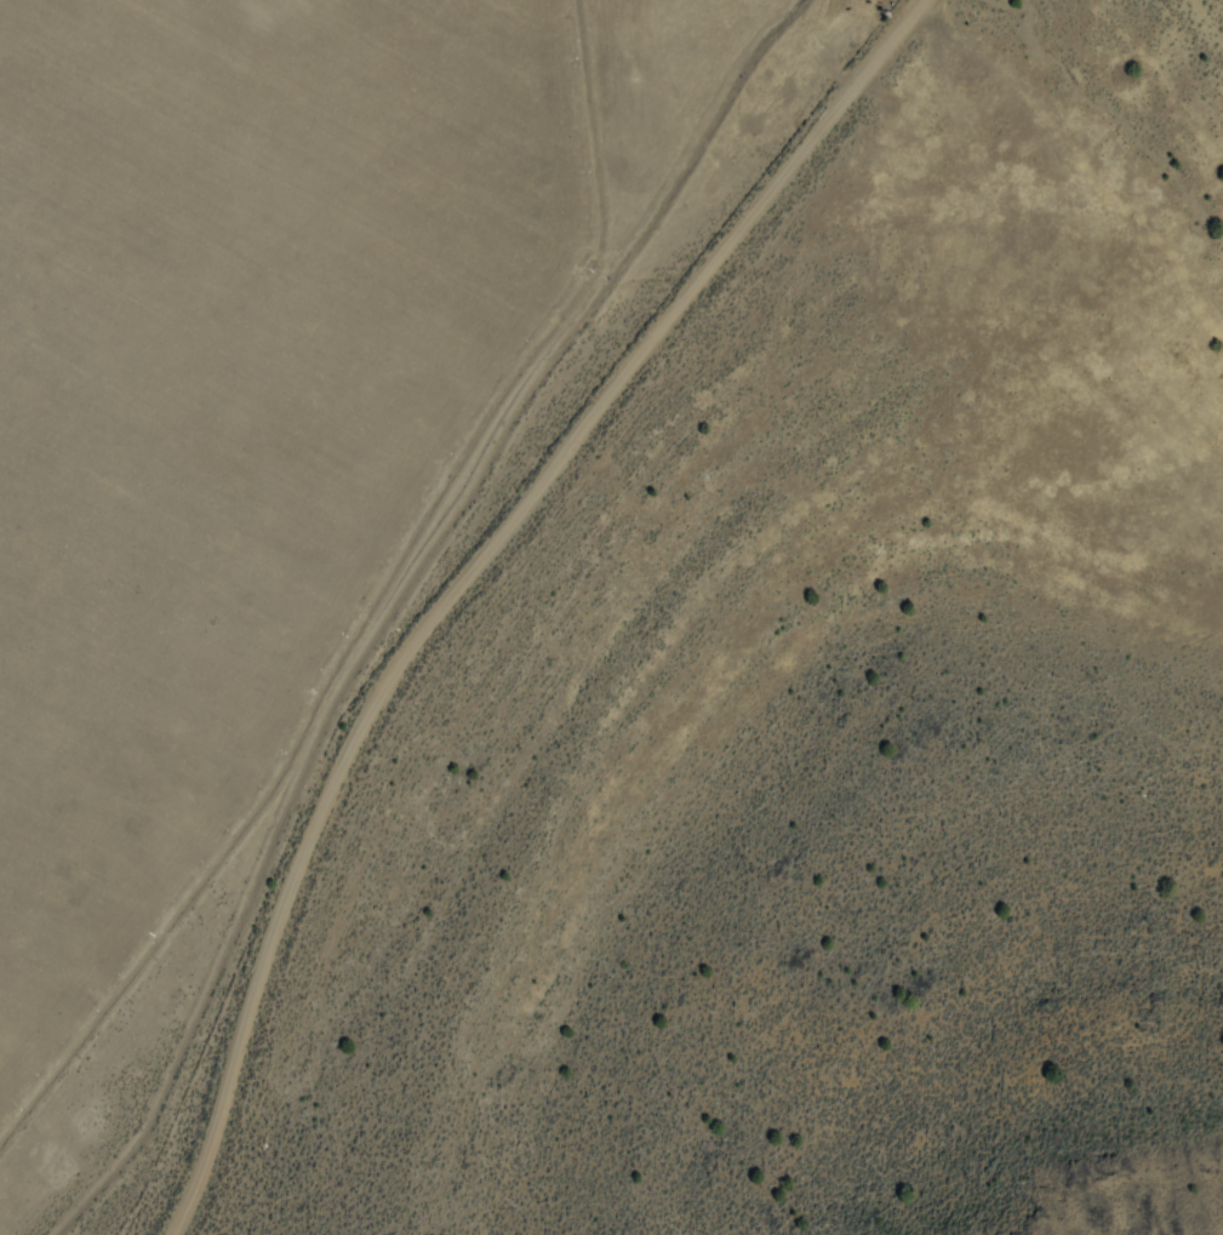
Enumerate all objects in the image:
road: (474, 572)

